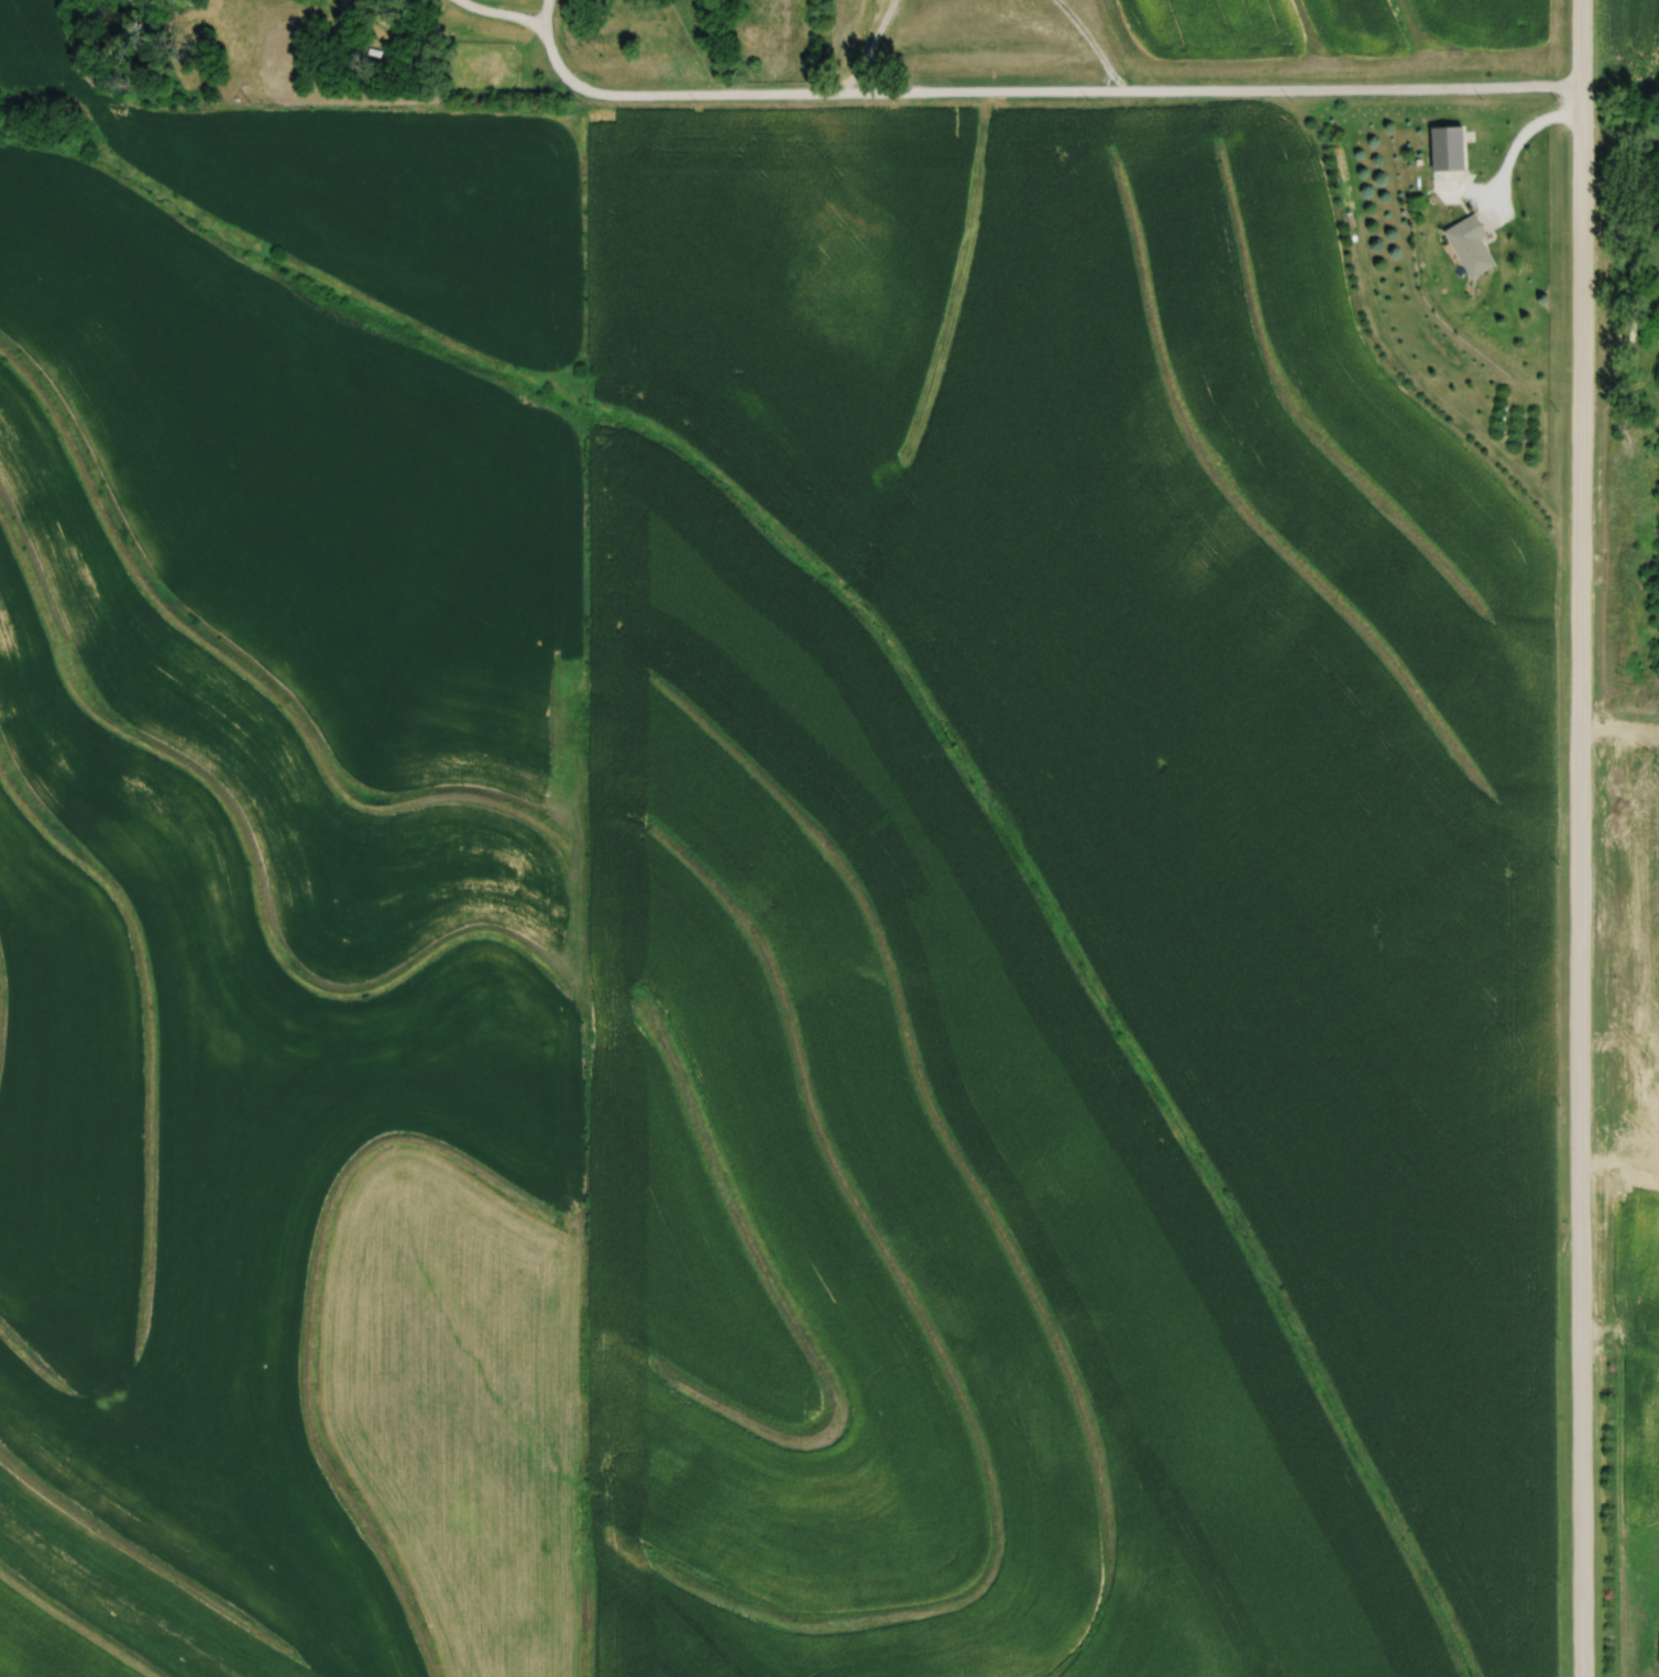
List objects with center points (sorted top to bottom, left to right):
road: (1026, 95)
road: (1516, 146)
building: (1446, 150)
building: (1470, 248)
road: (1579, 838)

